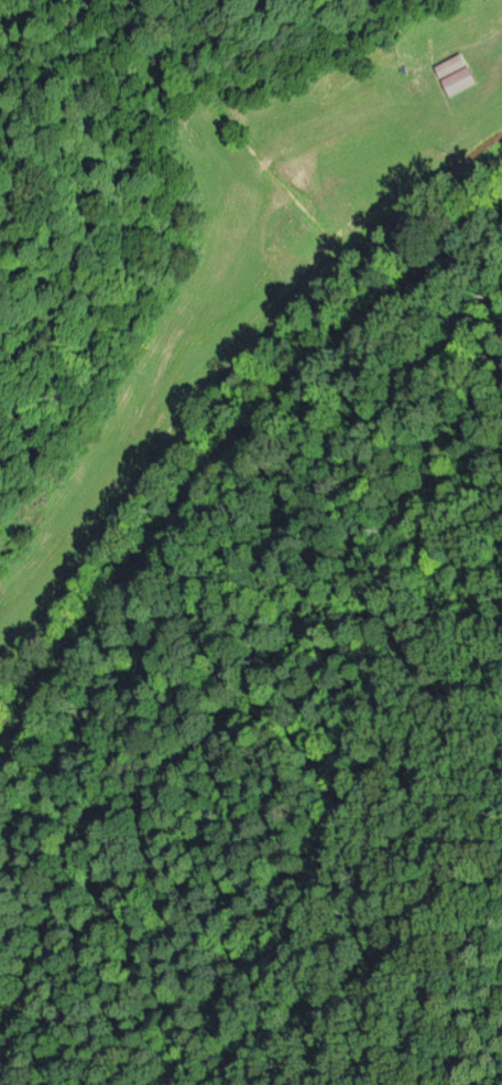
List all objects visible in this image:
road: (227, 527)

